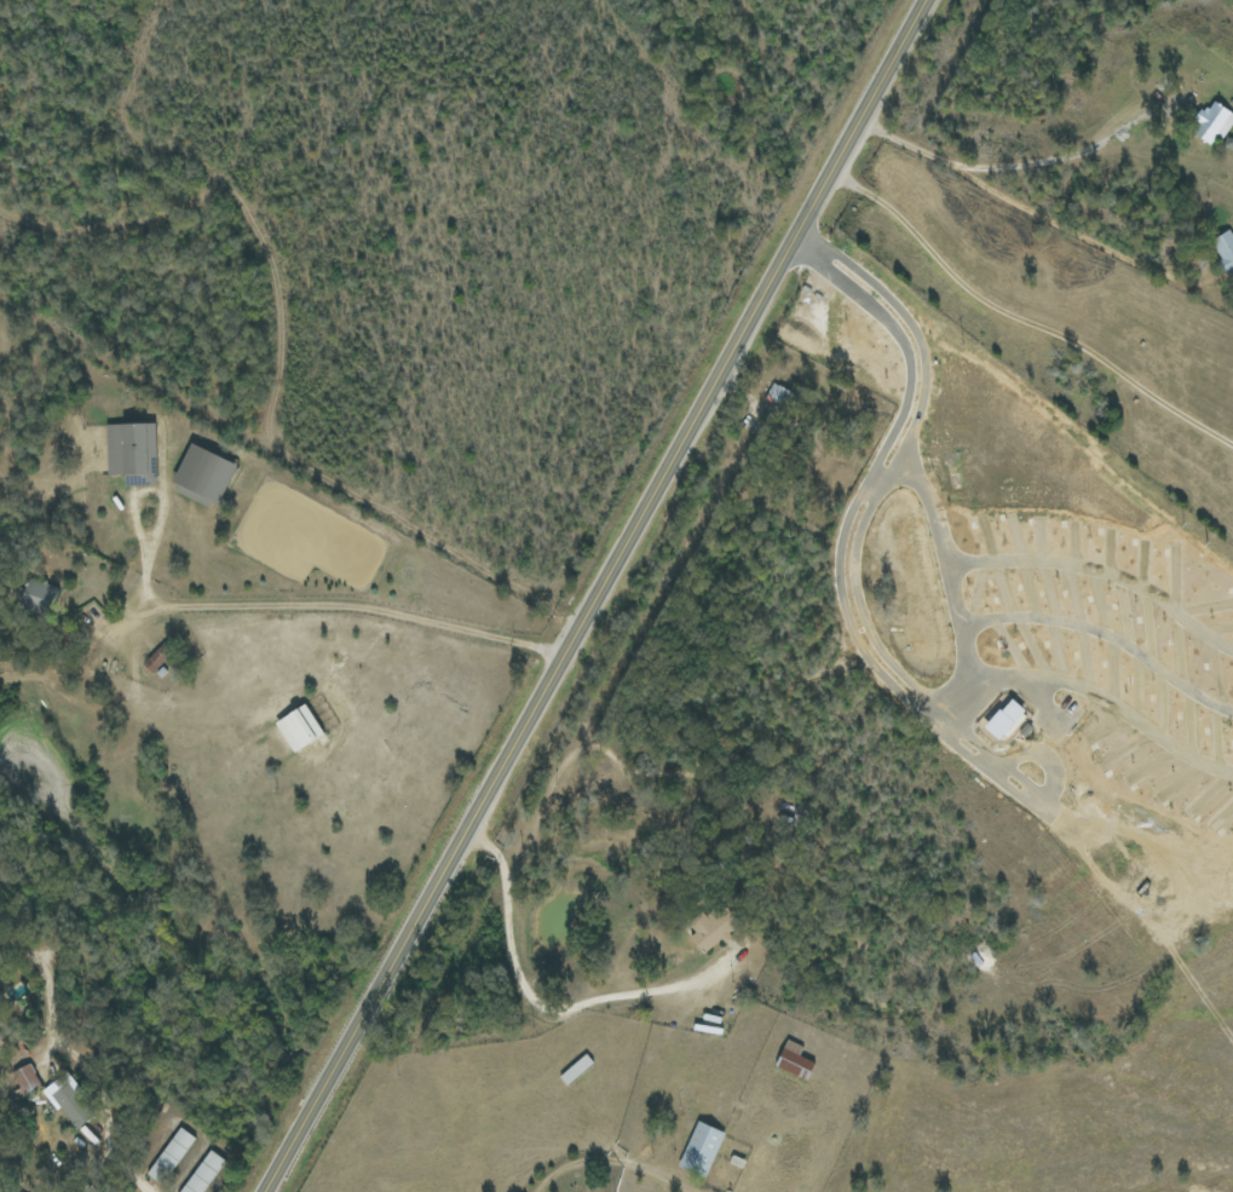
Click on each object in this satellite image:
building: (1214, 122)
road: (903, 144)
road: (1065, 157)
road: (1050, 223)
building: (1225, 249)
building: (778, 395)
building: (132, 451)
building: (206, 473)
building: (40, 595)
road: (589, 595)
road: (333, 605)
building: (300, 727)
building: (714, 928)
road: (523, 984)
building: (23, 1081)
building: (71, 1105)
building: (702, 1148)
building: (171, 1156)
road: (581, 1162)
building: (203, 1173)
road: (138, 1184)

